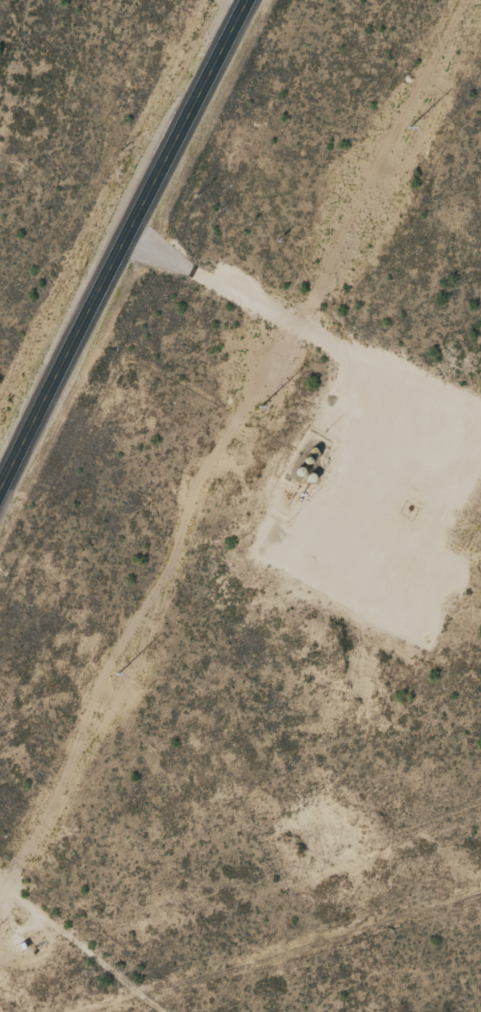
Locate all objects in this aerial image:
power tower: (407, 132)
road: (119, 246)
power tower: (257, 412)
power tower: (114, 681)
road: (87, 943)

